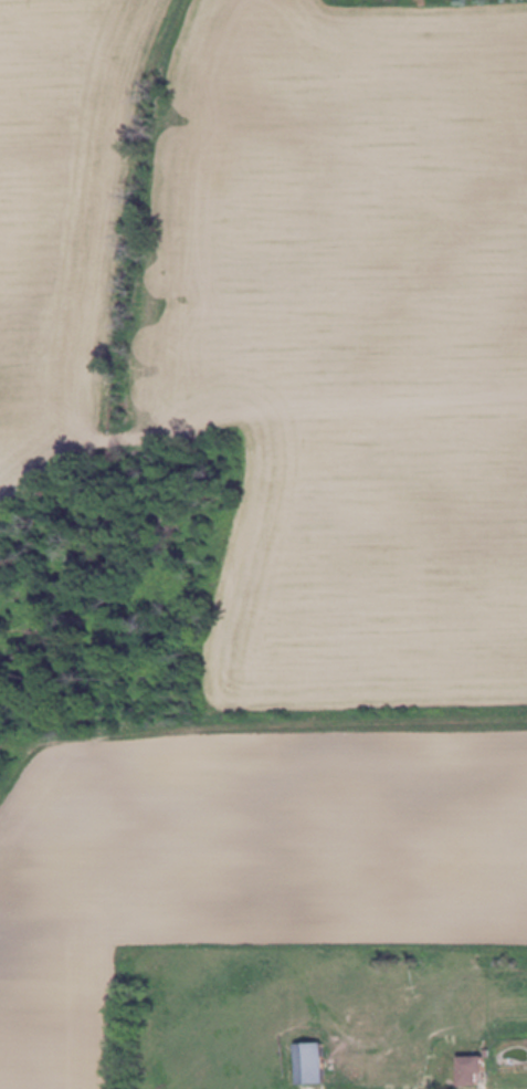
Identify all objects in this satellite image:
building: (320, 1064)
building: (481, 1071)

